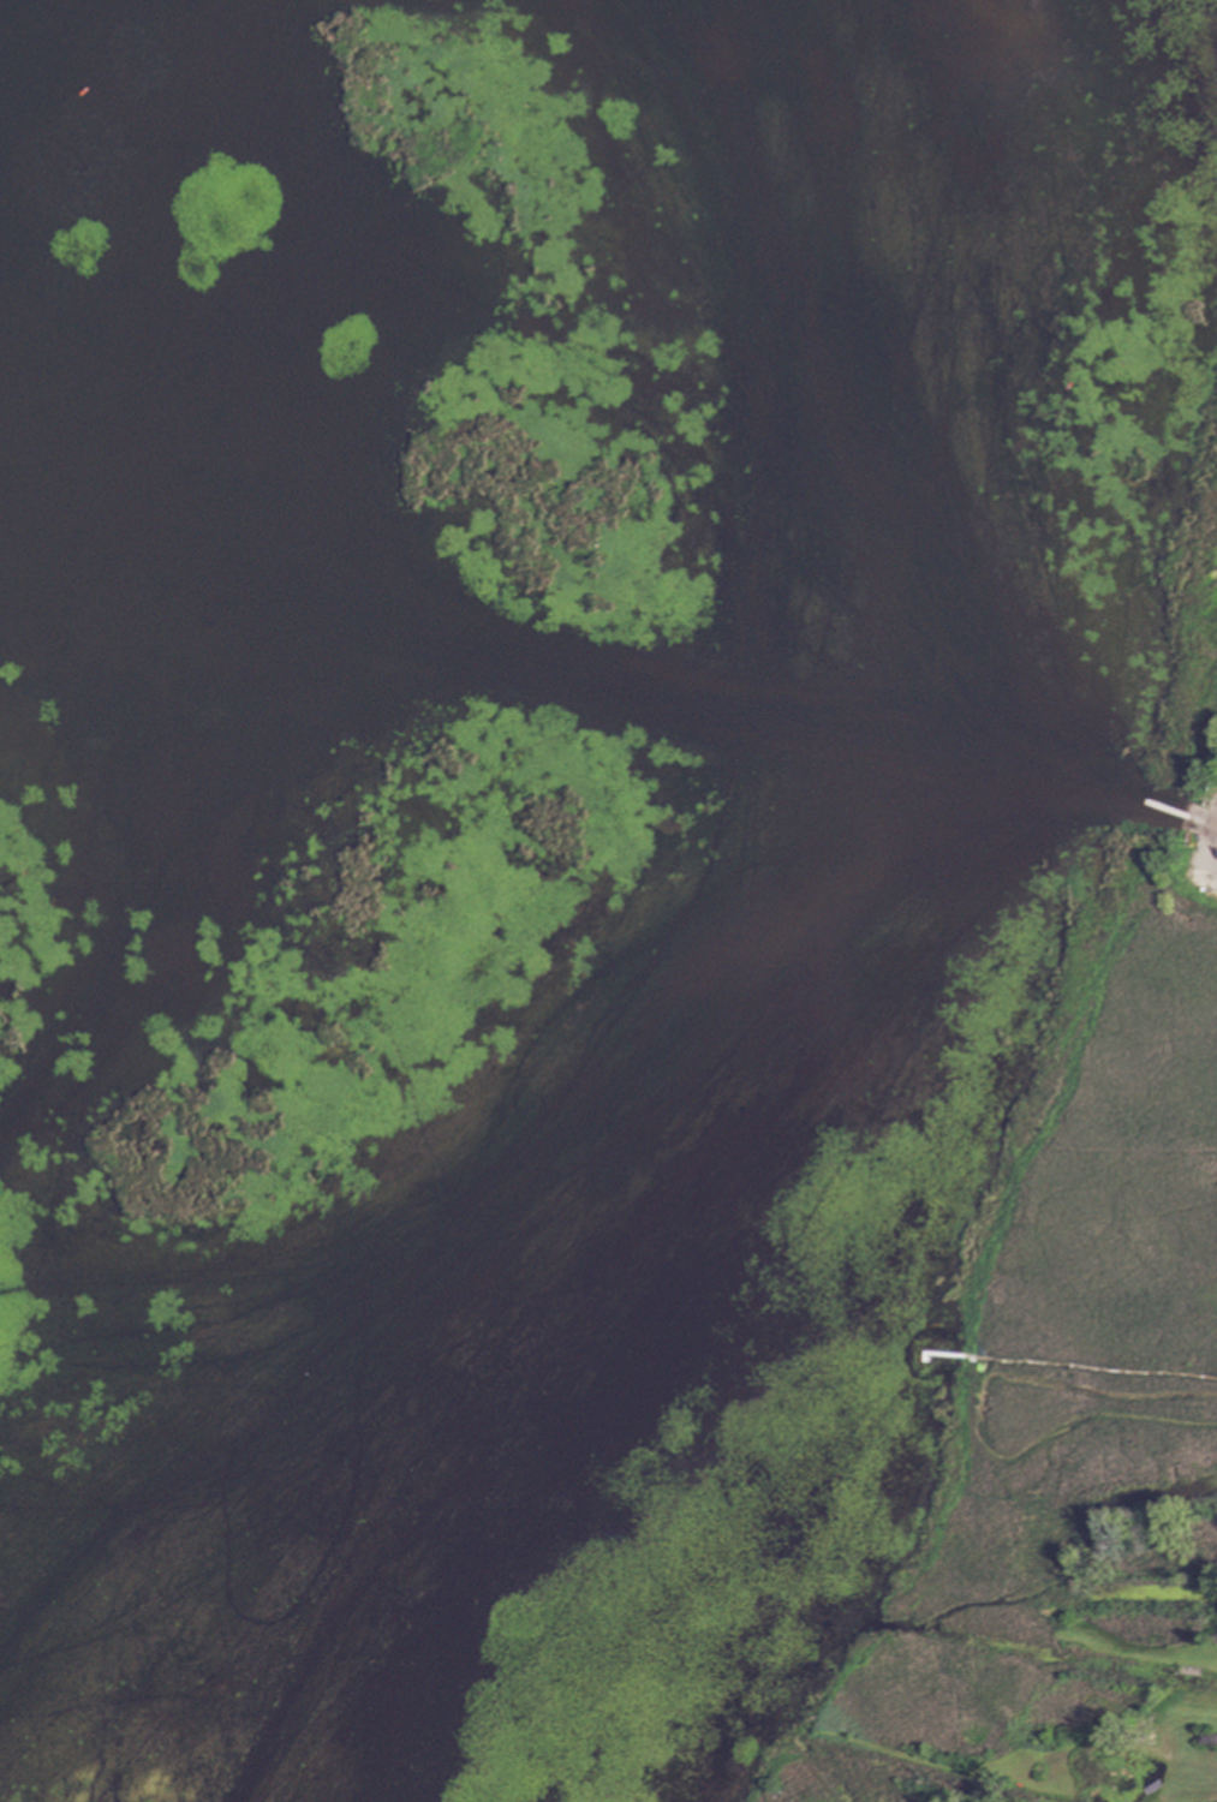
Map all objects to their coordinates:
parking lot: (1211, 869)

